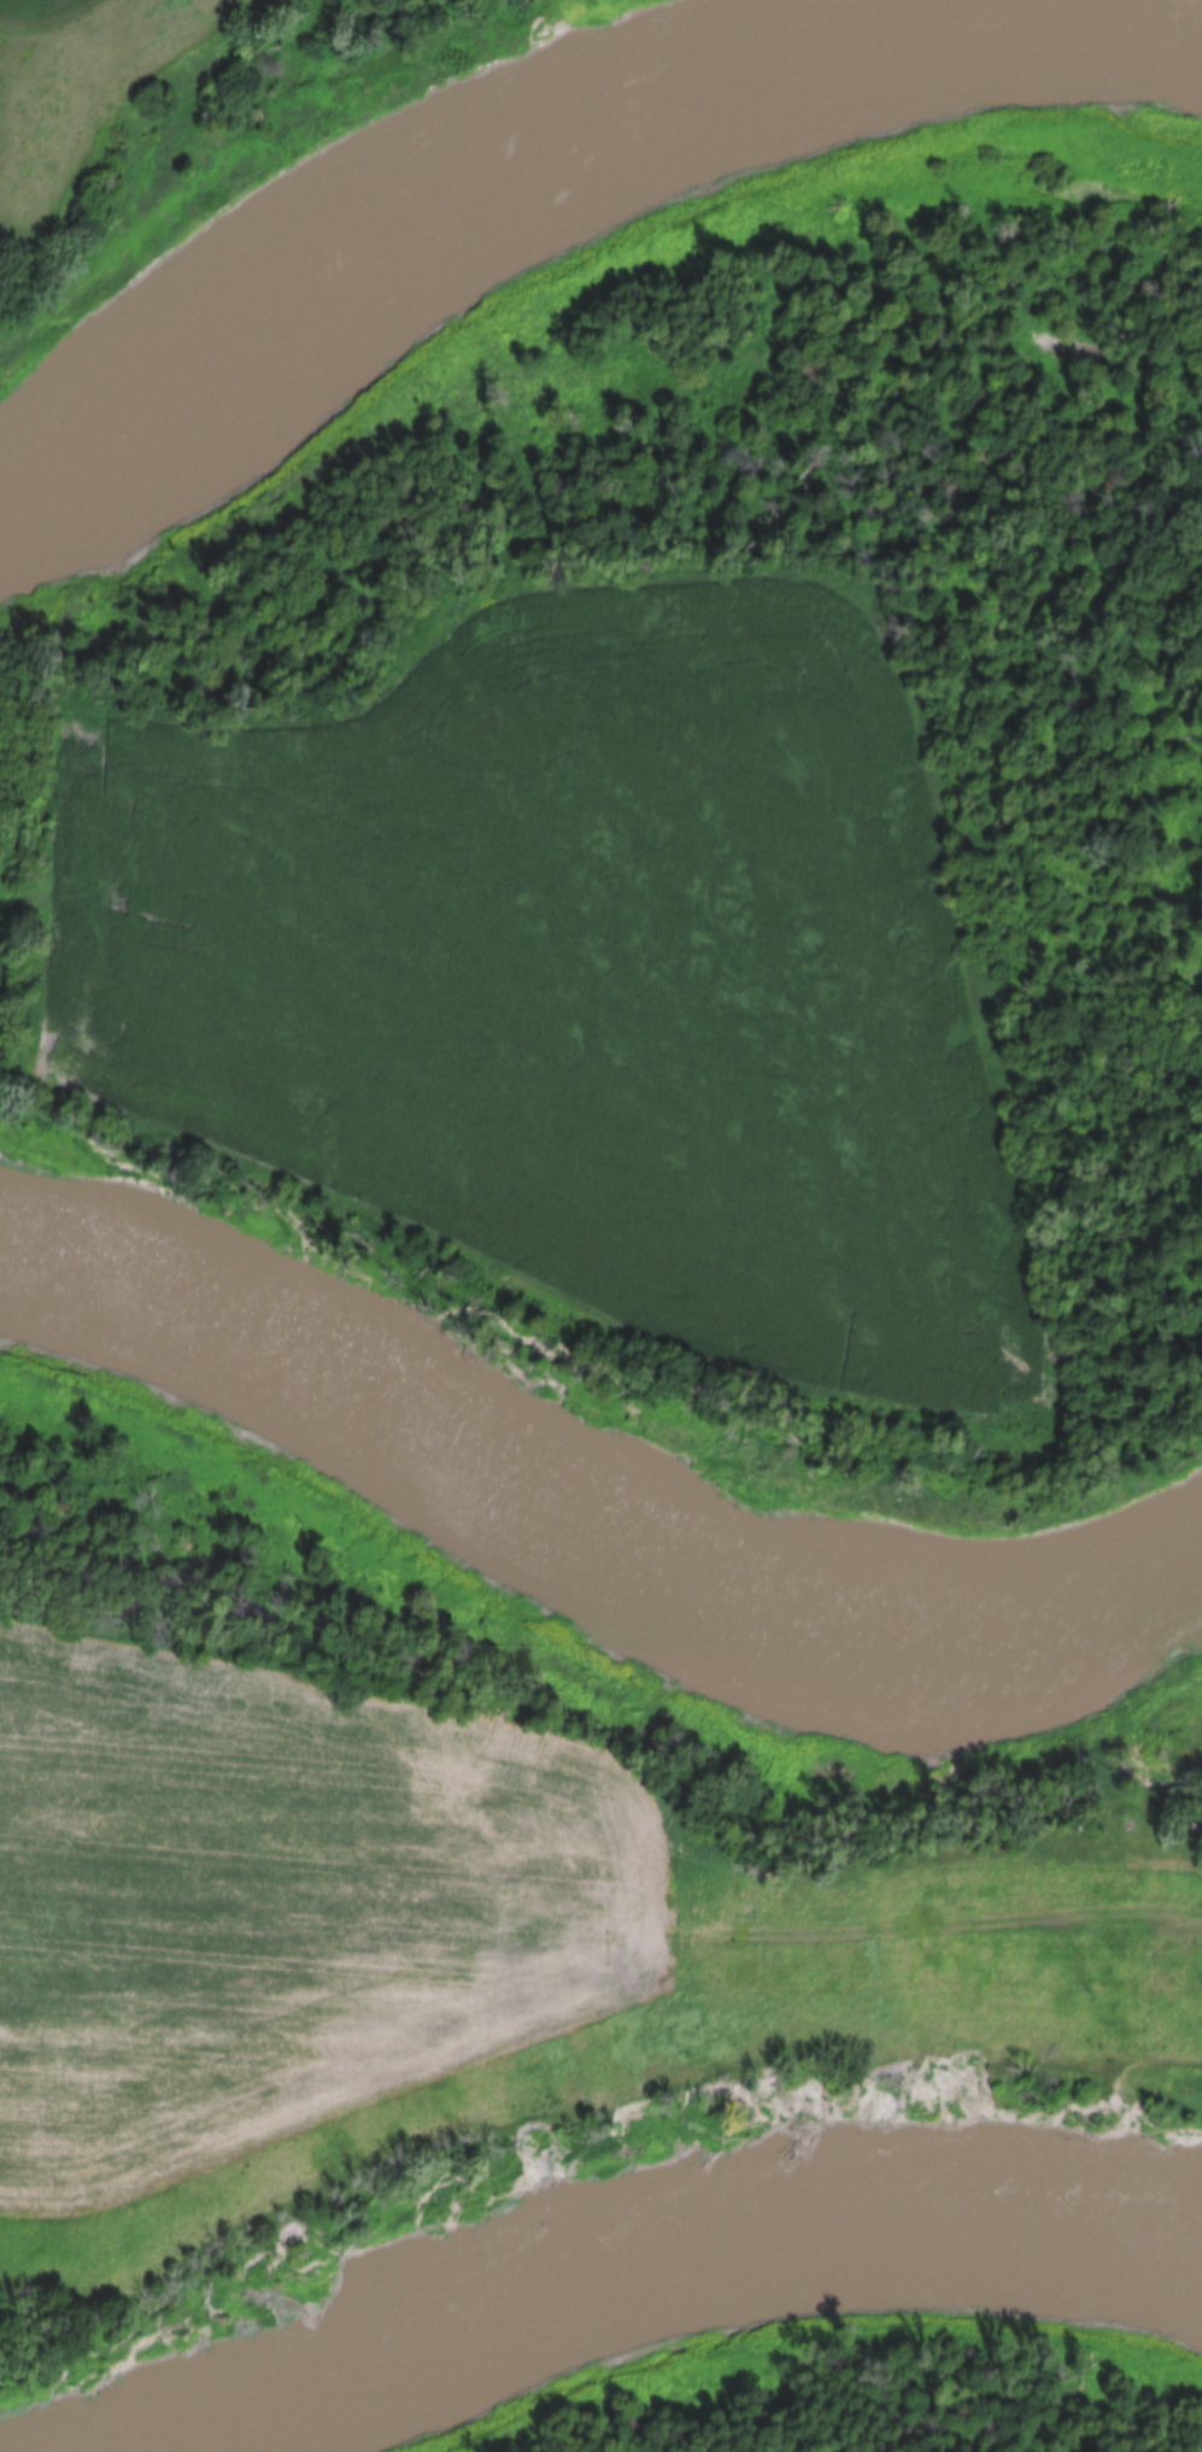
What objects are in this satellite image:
river: (564, 162)
river: (574, 1518)
river: (666, 2257)

